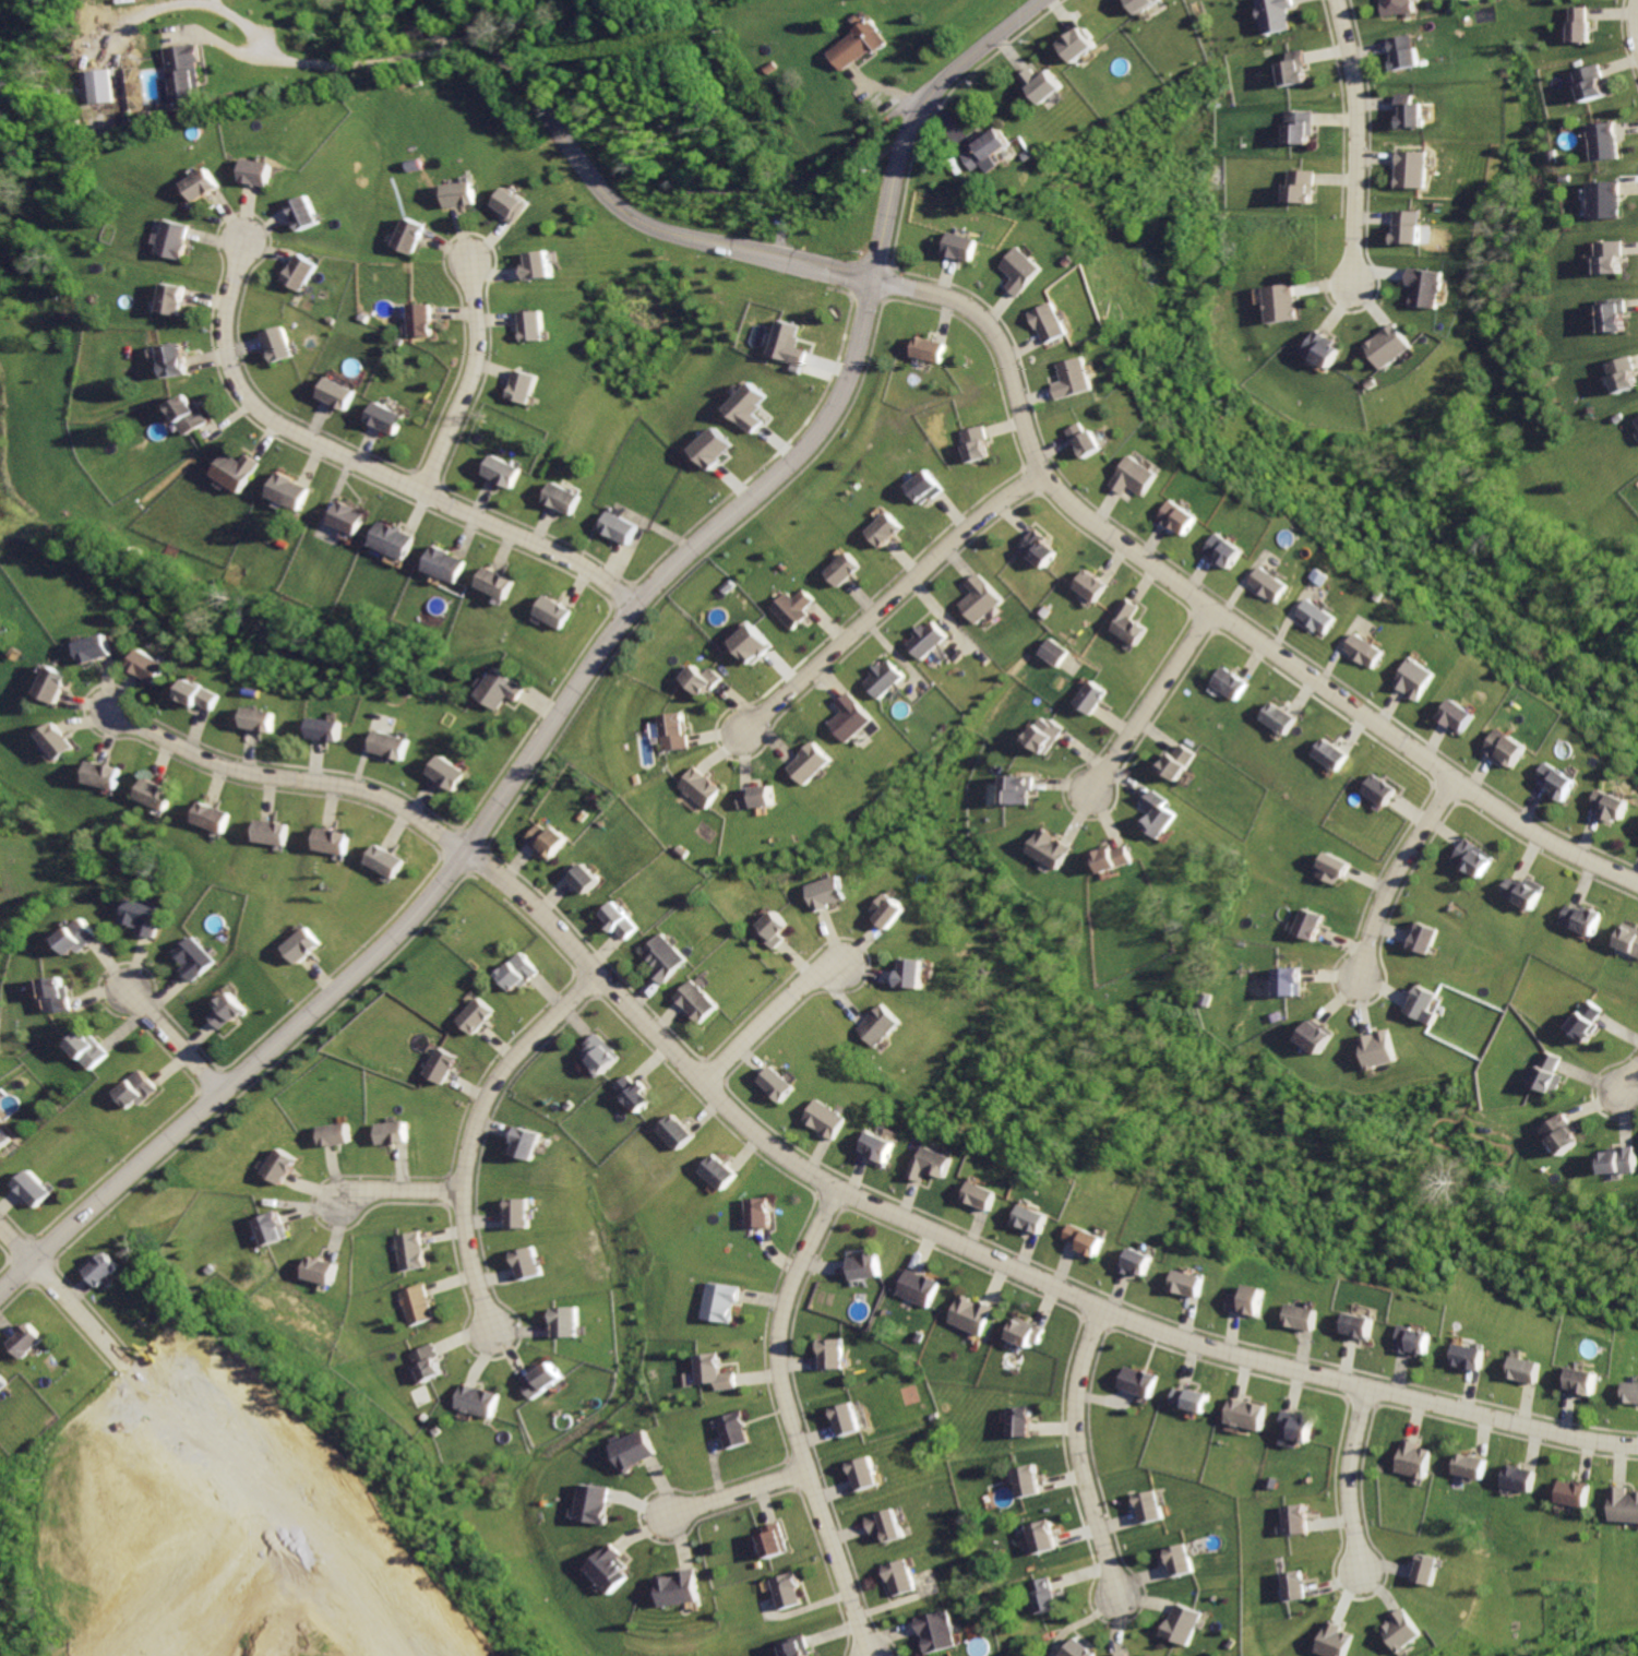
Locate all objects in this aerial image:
building: (1135, 1)
building: (1392, 8)
building: (1272, 13)
road: (1634, 23)
building: (1576, 26)
building: (1075, 36)
building: (862, 37)
building: (1401, 52)
road: (337, 64)
building: (1292, 70)
building: (184, 73)
building: (1040, 76)
building: (1589, 83)
building: (98, 85)
building: (1409, 112)
road: (922, 118)
building: (1292, 128)
road: (1353, 140)
building: (988, 142)
building: (1601, 143)
building: (1410, 170)
building: (261, 174)
building: (203, 183)
road: (596, 184)
building: (1298, 189)
building: (469, 196)
building: (1601, 201)
building: (516, 204)
building: (309, 213)
building: (1404, 227)
building: (414, 237)
building: (175, 241)
building: (961, 246)
building: (1606, 257)
building: (545, 264)
building: (307, 272)
building: (1020, 274)
road: (844, 276)
building: (1424, 287)
building: (175, 300)
building: (1275, 306)
building: (1610, 317)
building: (426, 322)
building: (1052, 324)
building: (538, 325)
building: (280, 344)
building: (788, 344)
building: (1385, 345)
building: (1320, 347)
building: (926, 350)
building: (174, 359)
building: (797, 370)
building: (1619, 373)
building: (1077, 380)
road: (473, 382)
building: (526, 386)
building: (340, 394)
building: (748, 407)
building: (188, 413)
building: (390, 419)
building: (1637, 419)
building: (1636, 424)
building: (1088, 442)
building: (976, 446)
building: (715, 449)
road: (367, 466)
building: (235, 470)
building: (505, 473)
building: (1138, 477)
building: (921, 487)
building: (289, 493)
building: (567, 500)
building: (347, 519)
building: (1181, 520)
building: (624, 528)
building: (882, 533)
building: (390, 541)
building: (1038, 551)
building: (1229, 552)
building: (441, 565)
building: (841, 570)
building: (497, 583)
building: (1277, 584)
building: (1092, 588)
road: (890, 595)
building: (981, 600)
road: (1216, 607)
building: (793, 609)
building: (554, 611)
building: (1324, 617)
building: (1132, 622)
building: (929, 640)
building: (750, 642)
building: (1051, 650)
building: (101, 651)
building: (1370, 652)
building: (152, 666)
building: (886, 679)
building: (1419, 681)
building: (701, 682)
building: (57, 686)
building: (1232, 686)
building: (499, 690)
building: (206, 695)
road: (1150, 699)
building: (1091, 700)
building: (854, 717)
building: (1461, 719)
building: (268, 720)
building: (1279, 720)
building: (331, 728)
building: (677, 730)
building: (1044, 735)
building: (57, 741)
building: (391, 747)
building: (1509, 749)
building: (1331, 755)
building: (814, 765)
building: (1179, 765)
building: (451, 773)
building: (100, 776)
road: (287, 778)
building: (1561, 783)
building: (704, 787)
building: (1377, 791)
building: (1017, 793)
building: (153, 795)
building: (763, 799)
building: (1618, 809)
building: (1157, 813)
building: (211, 814)
road: (480, 822)
building: (270, 832)
building: (547, 839)
building: (336, 843)
building: (1048, 850)
building: (1112, 859)
building: (388, 861)
building: (1473, 861)
building: (1331, 870)
road: (1394, 870)
building: (588, 877)
building: (828, 894)
building: (1520, 894)
building: (894, 913)
building: (144, 919)
building: (1581, 919)
building: (624, 924)
building: (1310, 926)
building: (780, 931)
building: (82, 938)
building: (1423, 942)
building: (1626, 943)
building: (304, 949)
building: (670, 961)
building: (193, 962)
building: (518, 975)
building: (916, 975)
building: (1289, 982)
building: (59, 996)
building: (701, 1003)
building: (1421, 1006)
building: (228, 1012)
building: (477, 1018)
road: (767, 1021)
building: (1576, 1021)
building: (883, 1027)
building: (1313, 1040)
road: (180, 1041)
building: (1378, 1049)
building: (89, 1050)
building: (601, 1056)
building: (442, 1068)
building: (1541, 1074)
road: (1626, 1077)
building: (777, 1084)
building: (136, 1091)
building: (633, 1096)
building: (828, 1121)
road: (470, 1133)
building: (392, 1134)
building: (675, 1135)
building: (1557, 1135)
building: (7, 1137)
building: (335, 1137)
building: (528, 1143)
building: (880, 1148)
building: (1613, 1163)
building: (934, 1166)
building: (280, 1169)
building: (717, 1174)
building: (37, 1189)
road: (397, 1192)
building: (988, 1198)
building: (521, 1215)
building: (757, 1215)
building: (1037, 1218)
building: (274, 1230)
building: (1093, 1240)
building: (413, 1252)
road: (990, 1259)
building: (1143, 1263)
building: (529, 1264)
building: (861, 1268)
building: (103, 1271)
building: (323, 1272)
building: (919, 1287)
building: (1195, 1287)
road: (61, 1298)
building: (720, 1301)
building: (1255, 1303)
building: (420, 1306)
building: (976, 1315)
building: (1311, 1321)
building: (564, 1324)
building: (1368, 1331)
building: (1029, 1333)
building: (1421, 1342)
building: (23, 1344)
building: (834, 1354)
building: (1476, 1360)
building: (433, 1366)
building: (1531, 1370)
building: (715, 1375)
building: (546, 1382)
building: (1141, 1383)
building: (1585, 1384)
building: (1, 1385)
building: (1633, 1392)
building: (483, 1401)
building: (1193, 1401)
building: (1251, 1416)
building: (849, 1419)
road: (790, 1420)
building: (1023, 1422)
building: (1298, 1429)
building: (734, 1430)
building: (630, 1452)
road: (1077, 1454)
building: (1409, 1457)
building: (1469, 1468)
building: (868, 1475)
building: (1521, 1478)
road: (1347, 1480)
building: (1028, 1481)
building: (1575, 1494)
road: (734, 1497)
building: (595, 1503)
building: (1149, 1505)
building: (1621, 1505)
building: (1296, 1518)
building: (889, 1523)
building: (1045, 1536)
building: (775, 1540)
building: (1181, 1559)
building: (612, 1569)
building: (1425, 1570)
building: (901, 1573)
building: (1290, 1584)
building: (679, 1588)
building: (788, 1591)
building: (1044, 1595)
building: (1182, 1625)
building: (1399, 1629)
building: (938, 1632)
building: (1329, 1640)
building: (794, 1646)
building: (1078, 1648)
building: (1125, 1654)
building: (1153, 1655)

